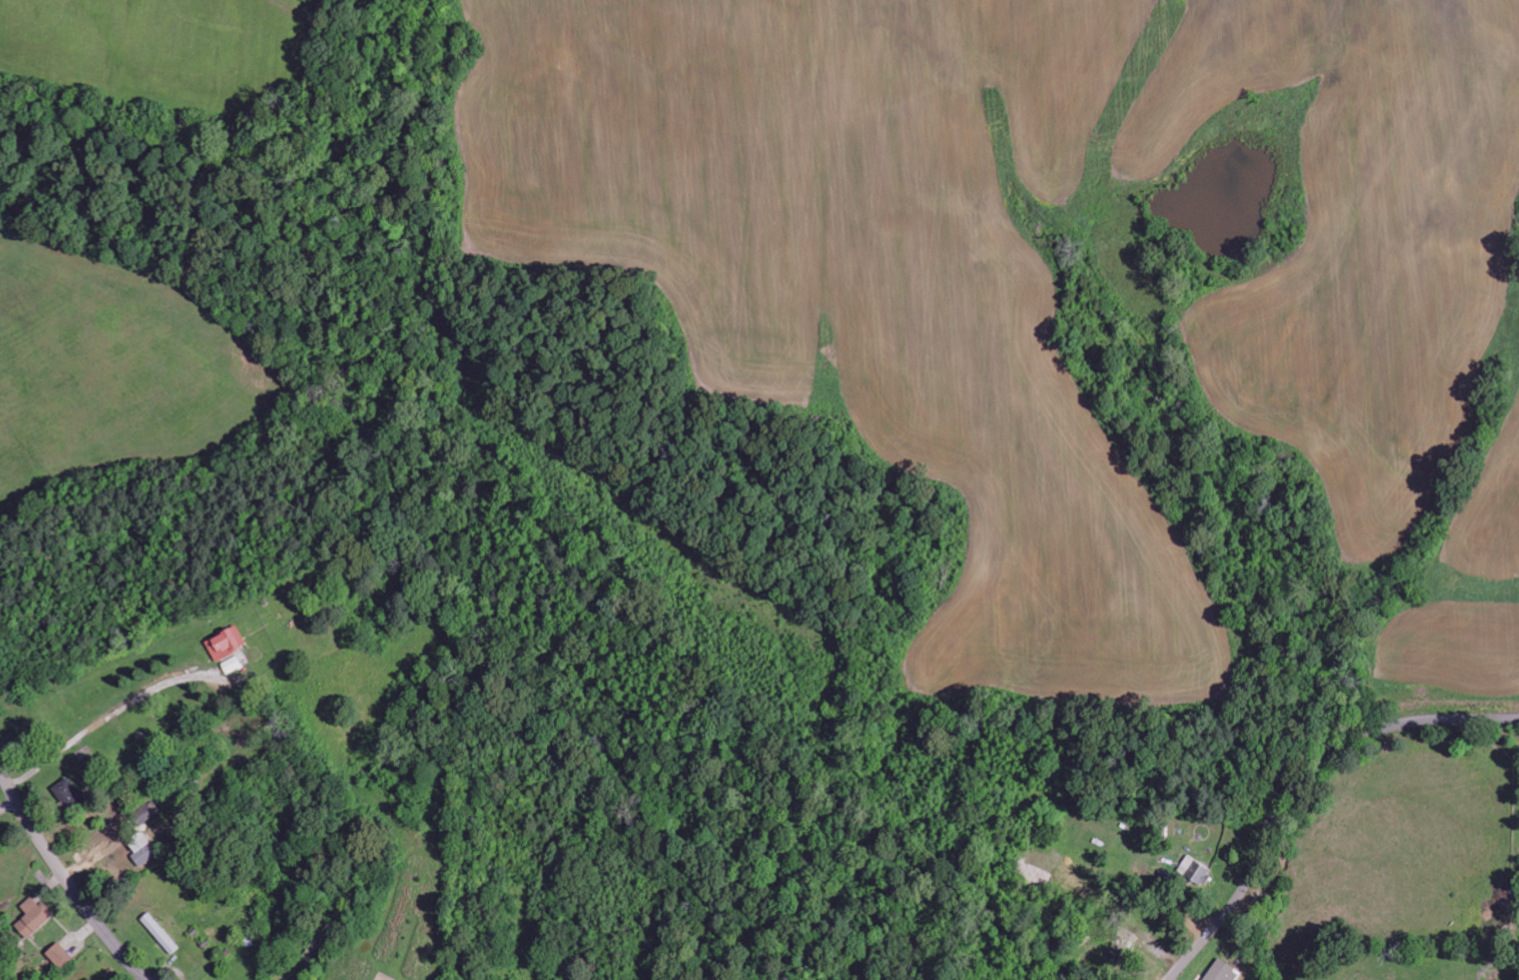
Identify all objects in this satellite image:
crop: (1080, 279)
building: (225, 644)
building: (232, 665)
road: (1291, 775)
building: (67, 794)
building: (142, 854)
building: (1195, 871)
road: (69, 878)
building: (33, 918)
building: (160, 932)
building: (1118, 943)
building: (60, 955)
building: (1222, 972)
building: (89, 979)

